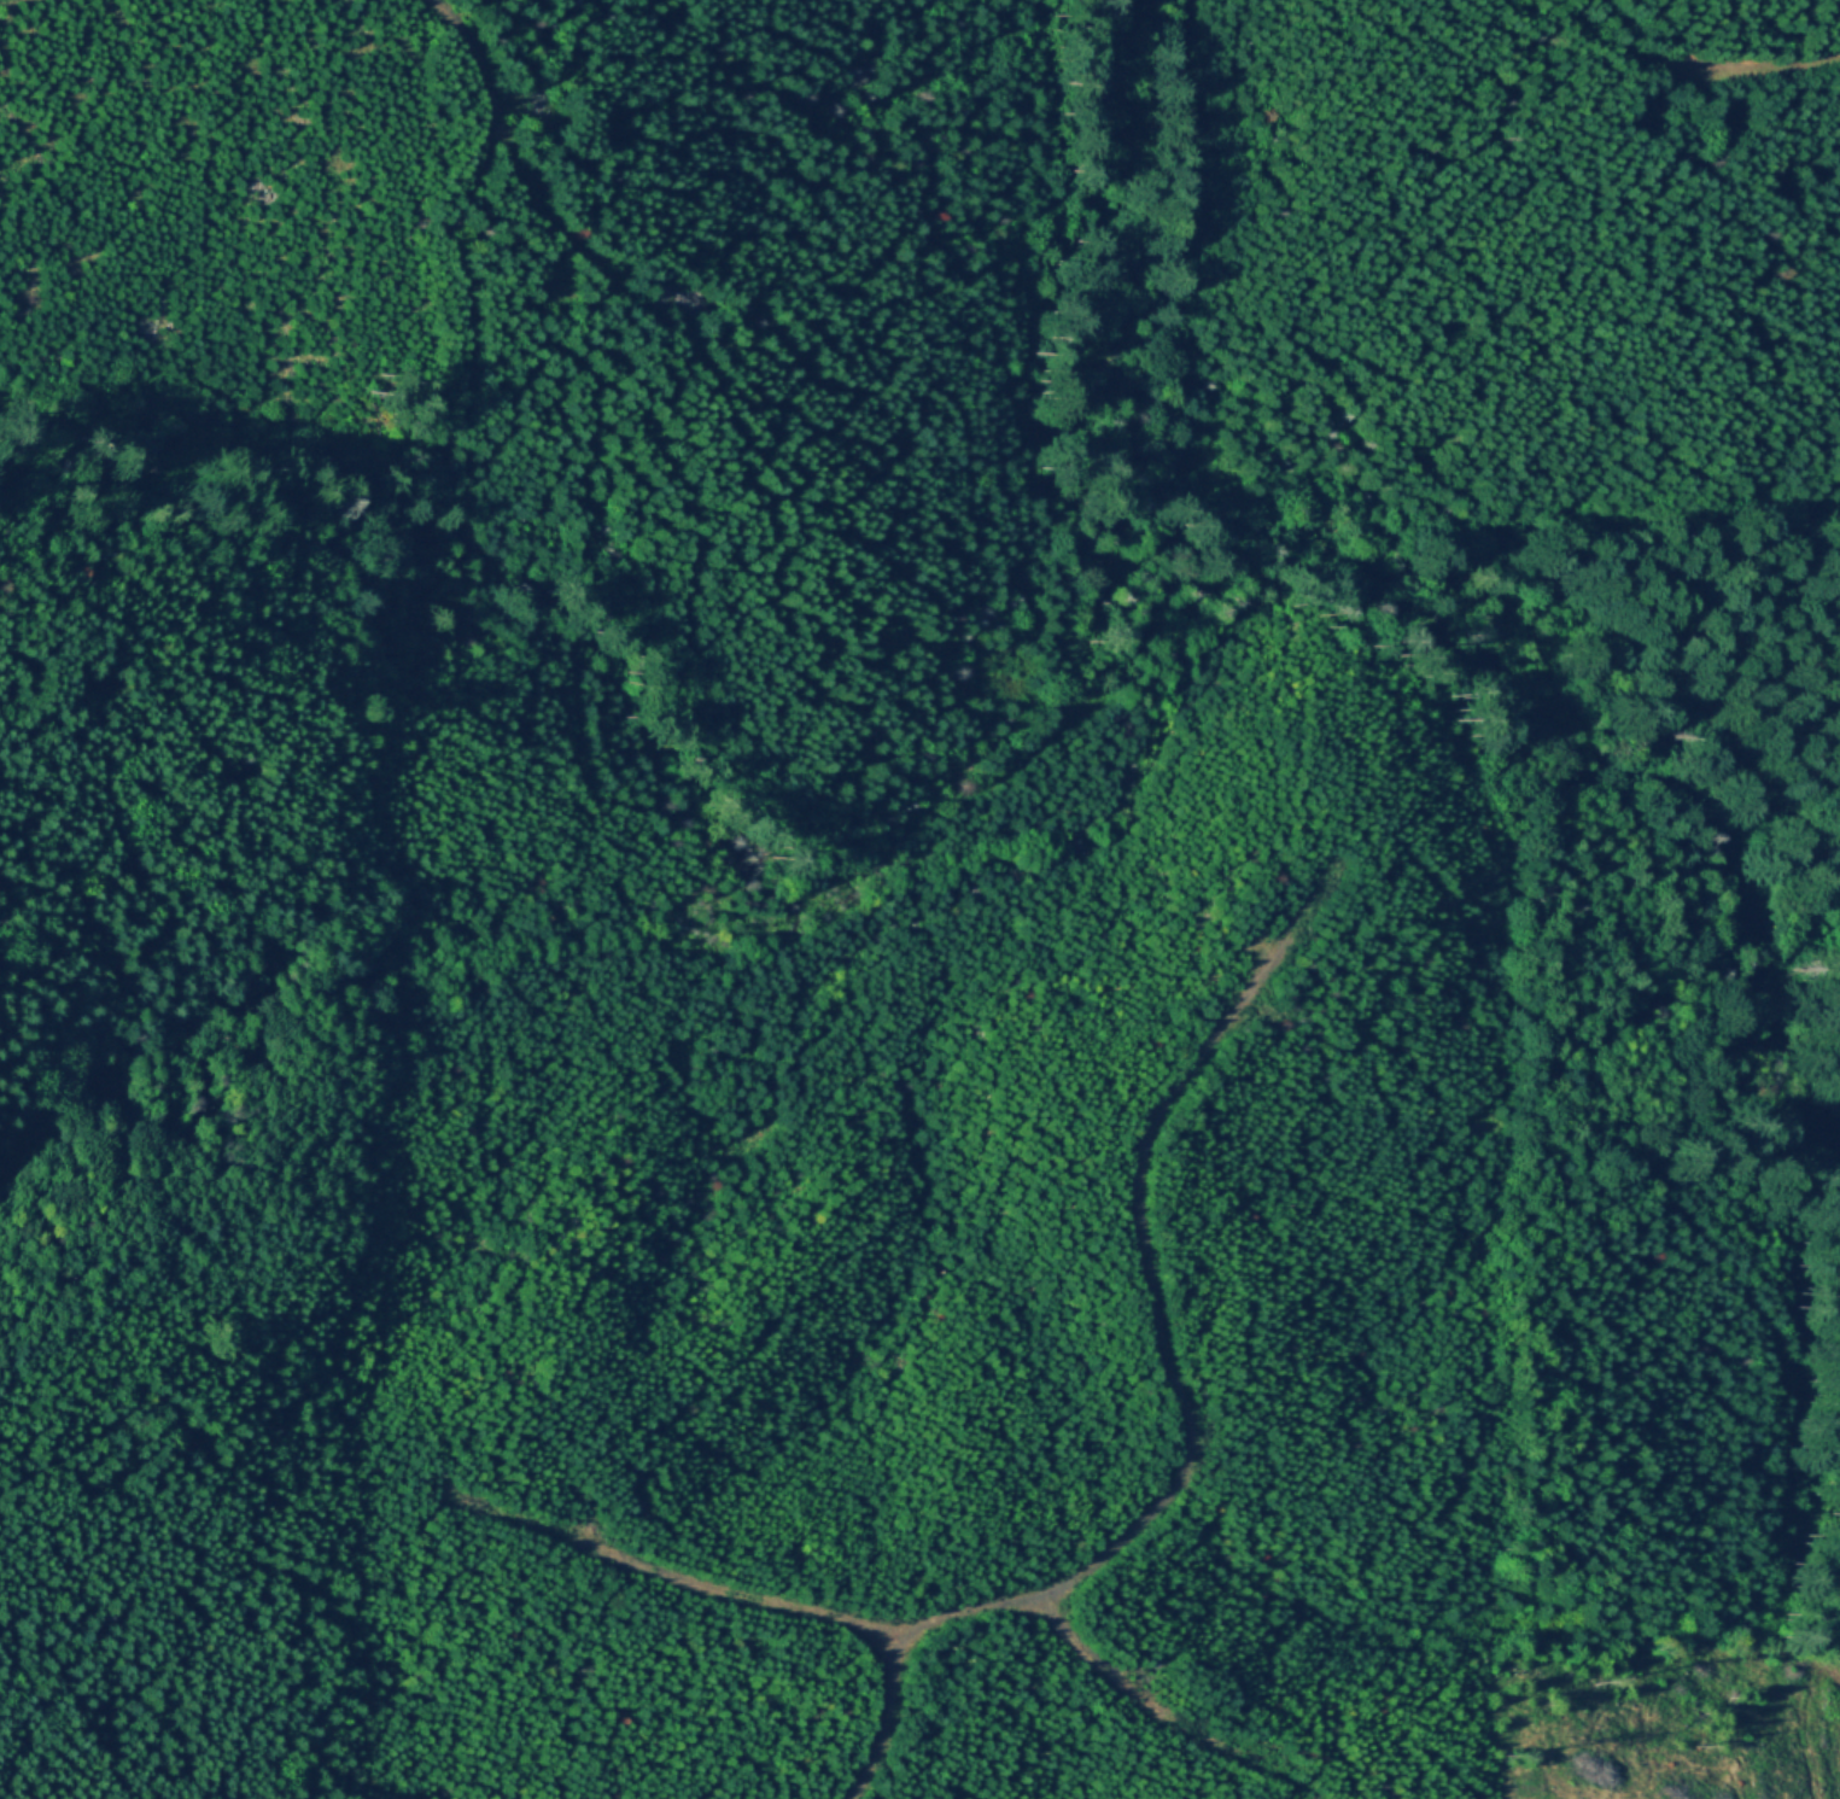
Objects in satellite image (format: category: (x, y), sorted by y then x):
road: (1673, 59)
road: (491, 95)
road: (49, 667)
road: (1682, 700)
road: (1184, 1412)
road: (56, 1472)
road: (682, 1581)
road: (1832, 1657)
road: (1131, 1692)
road: (63, 1745)

